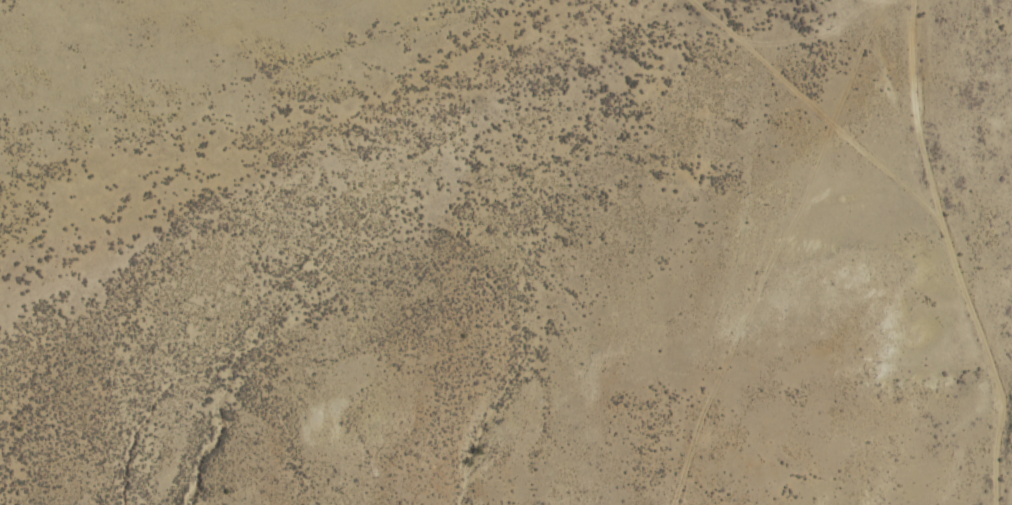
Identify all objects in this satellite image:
road: (920, 250)

